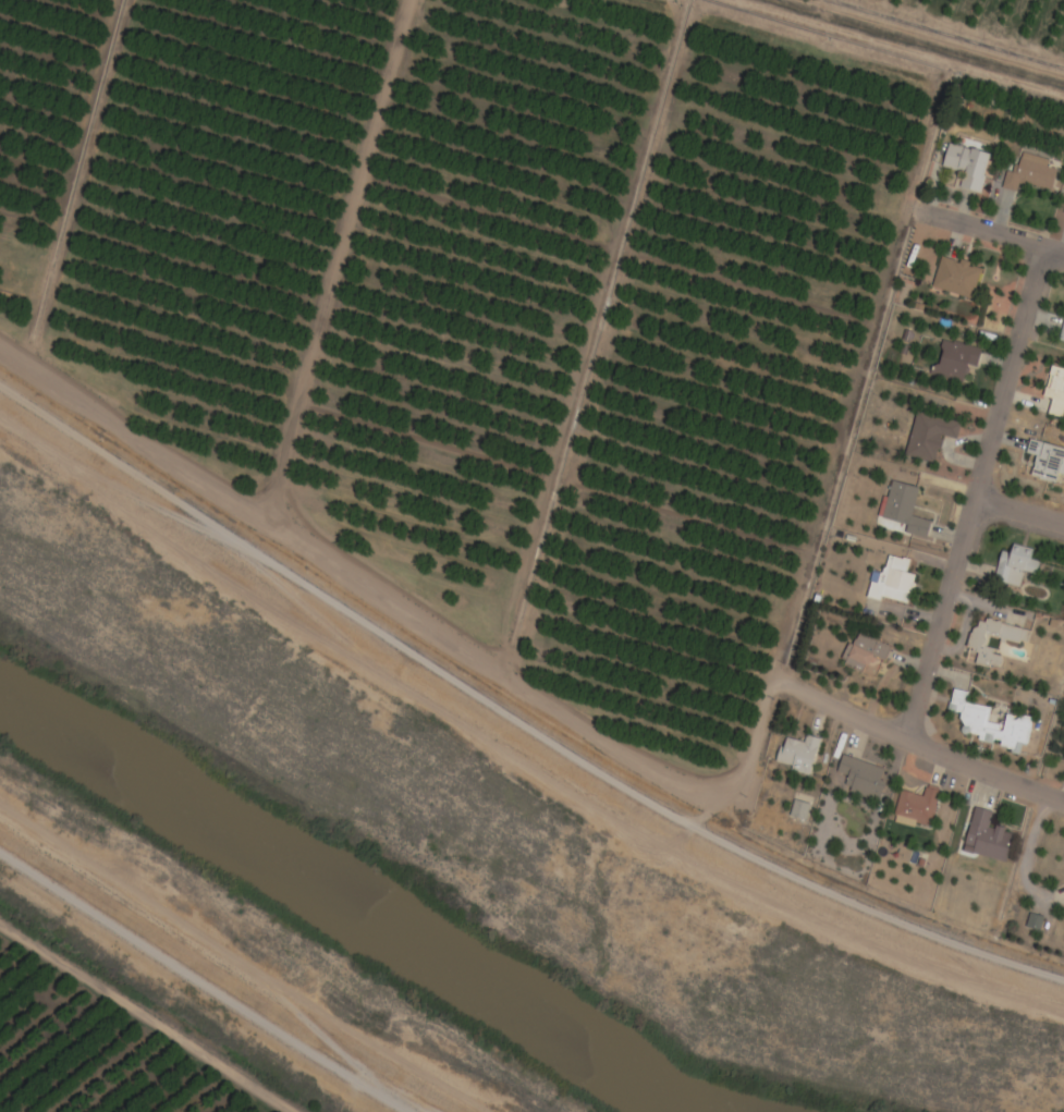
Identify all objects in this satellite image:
building: (966, 166)
building: (1029, 174)
road: (988, 233)
building: (955, 278)
building: (1062, 334)
building: (954, 362)
building: (1055, 392)
building: (928, 437)
building: (1047, 462)
road: (979, 497)
building: (903, 510)
road: (1020, 513)
building: (1014, 566)
building: (892, 583)
building: (1017, 641)
building: (864, 651)
road: (552, 711)
building: (989, 724)
road: (514, 750)
building: (797, 755)
building: (859, 780)
building: (916, 808)
building: (799, 811)
building: (986, 838)
river: (343, 907)
road: (208, 983)
road: (149, 1017)

